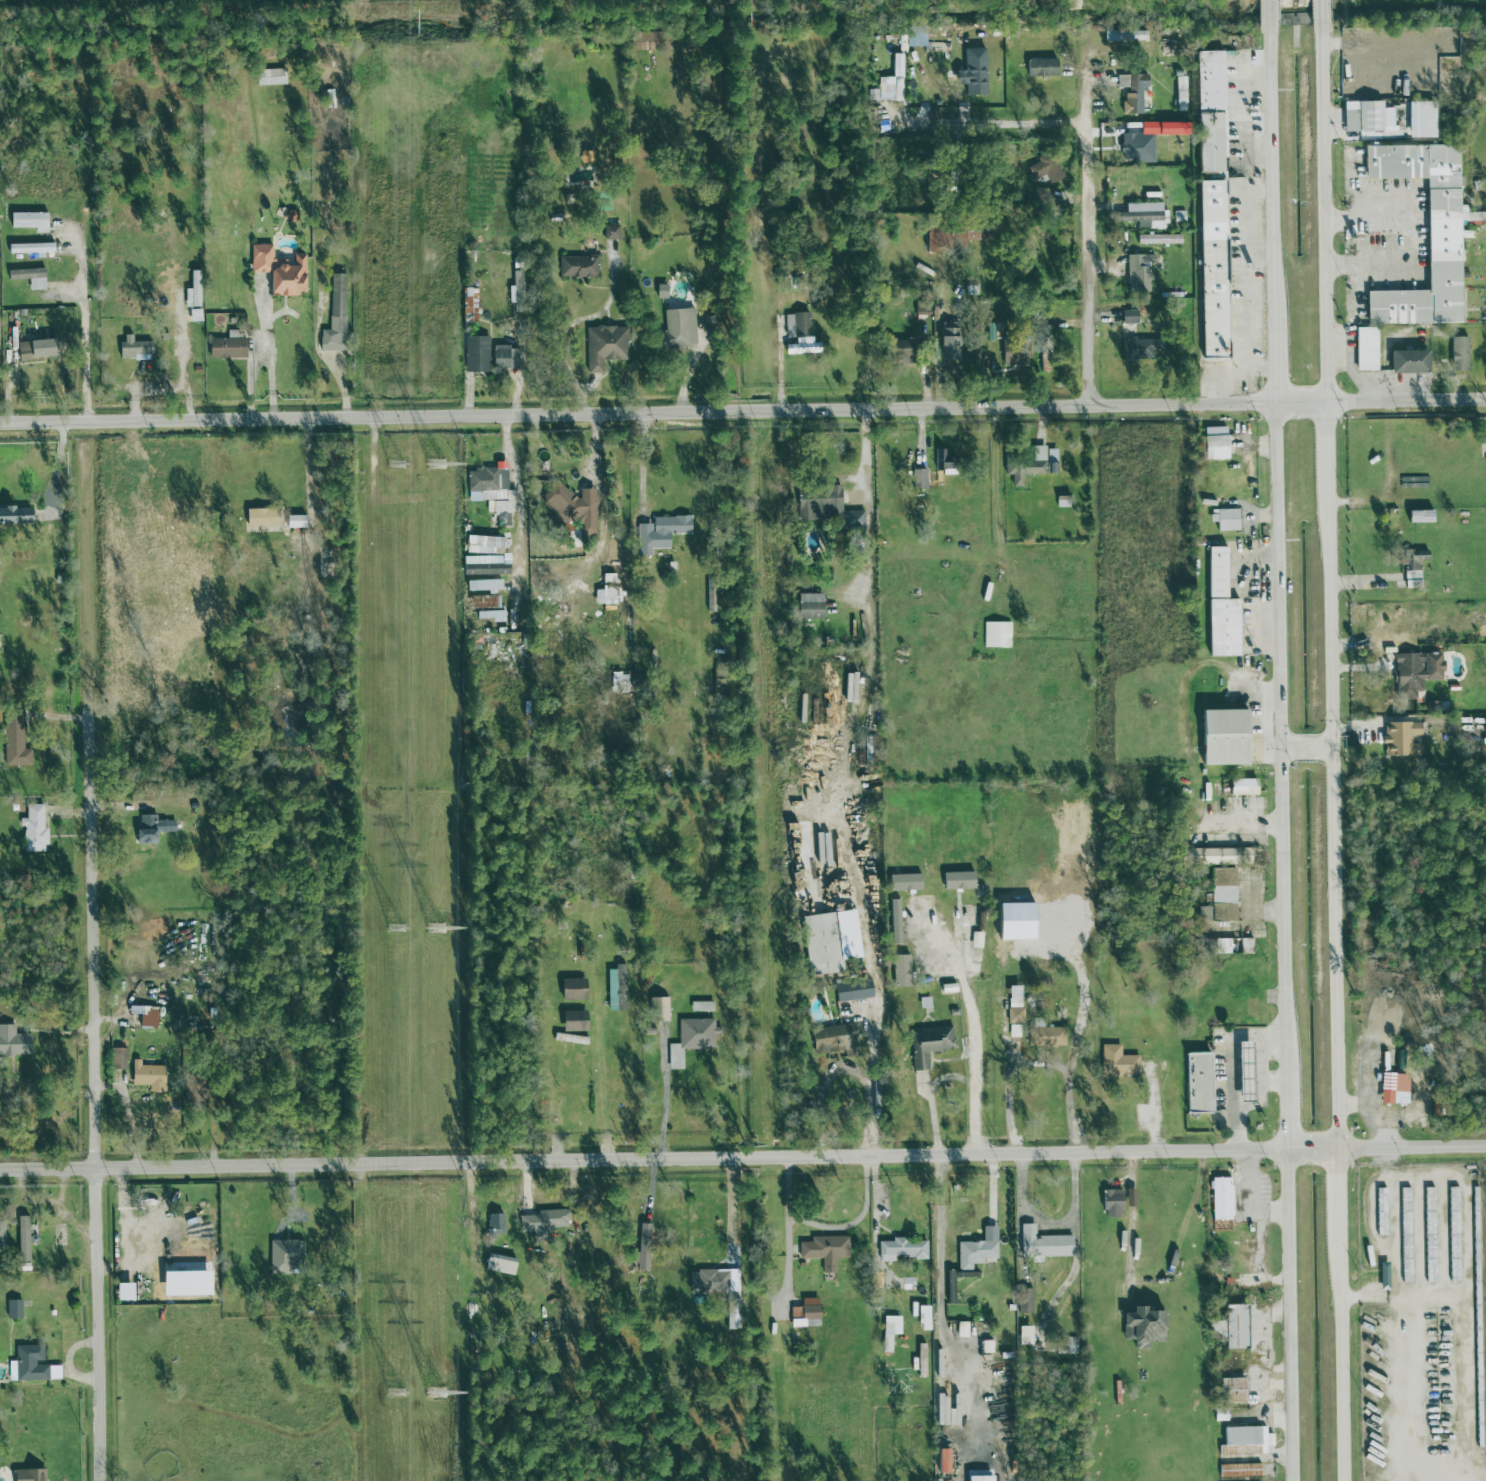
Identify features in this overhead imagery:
building: (1288, 19)
building: (643, 41)
building: (1041, 67)
building: (974, 71)
building: (270, 77)
building: (889, 83)
building: (1132, 91)
building: (1210, 111)
building: (1367, 116)
building: (1421, 119)
road: (1008, 121)
building: (1136, 147)
building: (585, 156)
road: (1271, 158)
building: (1045, 168)
building: (1043, 194)
road: (1324, 200)
building: (1142, 214)
building: (28, 220)
road: (1095, 220)
building: (610, 231)
road: (1240, 232)
building: (1443, 235)
building: (948, 236)
building: (1158, 239)
road: (1413, 239)
building: (29, 248)
building: (577, 266)
building: (1211, 268)
building: (278, 270)
building: (1137, 272)
building: (28, 277)
building: (194, 288)
building: (660, 291)
building: (468, 304)
building: (921, 308)
building: (335, 316)
building: (1129, 316)
building: (678, 328)
building: (799, 334)
road: (86, 335)
building: (948, 341)
building: (226, 346)
building: (604, 346)
road: (267, 347)
building: (133, 348)
building: (1366, 348)
building: (35, 349)
building: (897, 349)
building: (1140, 349)
building: (1458, 353)
building: (476, 354)
building: (1014, 355)
building: (505, 357)
road: (1272, 359)
building: (1408, 361)
road: (249, 381)
road: (742, 410)
building: (1214, 442)
road: (1326, 446)
building: (1051, 460)
power tower: (395, 464)
power tower: (438, 465)
road: (642, 465)
building: (1026, 466)
road: (309, 473)
building: (918, 479)
building: (487, 485)
road: (599, 494)
building: (826, 507)
building: (572, 509)
road: (520, 511)
building: (15, 515)
building: (260, 517)
building: (1225, 519)
building: (660, 532)
building: (485, 544)
road: (88, 566)
building: (1412, 567)
building: (486, 585)
building: (605, 591)
building: (810, 606)
building: (487, 608)
building: (1220, 608)
building: (996, 634)
building: (1415, 672)
building: (619, 682)
building: (1485, 725)
road: (1278, 731)
building: (1227, 738)
building: (1400, 738)
building: (14, 742)
road: (1293, 743)
building: (1242, 787)
road: (1332, 818)
building: (33, 829)
building: (151, 829)
building: (1217, 856)
building: (957, 880)
building: (904, 882)
building: (1219, 896)
road: (1254, 909)
building: (895, 921)
power tower: (396, 928)
power tower: (436, 928)
building: (821, 944)
building: (1223, 946)
building: (900, 971)
building: (616, 988)
building: (572, 989)
building: (852, 990)
building: (1014, 1004)
building: (701, 1006)
building: (659, 1009)
building: (147, 1017)
building: (573, 1021)
road: (973, 1027)
building: (1014, 1031)
building: (1046, 1037)
building: (833, 1038)
building: (688, 1039)
building: (12, 1041)
building: (929, 1044)
road: (1273, 1056)
building: (118, 1058)
building: (1117, 1062)
road: (1034, 1063)
road: (1232, 1067)
road: (844, 1068)
building: (1244, 1071)
road: (1262, 1071)
building: (150, 1075)
building: (1198, 1083)
building: (1390, 1088)
building: (194, 1089)
road: (99, 1095)
road: (664, 1105)
road: (1285, 1105)
road: (743, 1157)
road: (1337, 1191)
building: (1130, 1197)
building: (1221, 1199)
building: (1112, 1203)
road: (731, 1209)
building: (1429, 1210)
building: (1381, 1211)
building: (1405, 1211)
building: (1453, 1211)
building: (543, 1222)
road: (1052, 1223)
road: (1183, 1224)
building: (494, 1225)
road: (825, 1225)
road: (1258, 1227)
building: (162, 1236)
building: (22, 1239)
building: (1042, 1245)
building: (642, 1249)
building: (902, 1249)
road: (1394, 1249)
building: (824, 1250)
building: (288, 1254)
building: (974, 1254)
road: (941, 1262)
building: (499, 1264)
building: (713, 1281)
building: (122, 1292)
building: (1024, 1301)
building: (12, 1309)
building: (805, 1314)
road: (1288, 1314)
building: (731, 1318)
building: (923, 1318)
building: (1141, 1326)
building: (1235, 1326)
building: (1217, 1327)
building: (962, 1330)
building: (1024, 1335)
building: (886, 1337)
building: (1067, 1345)
road: (1340, 1357)
building: (33, 1365)
building: (1232, 1390)
power tower: (396, 1392)
power tower: (437, 1396)
building: (1247, 1437)
building: (943, 1460)
building: (1239, 1470)
building: (28, 1474)
building: (979, 1478)

